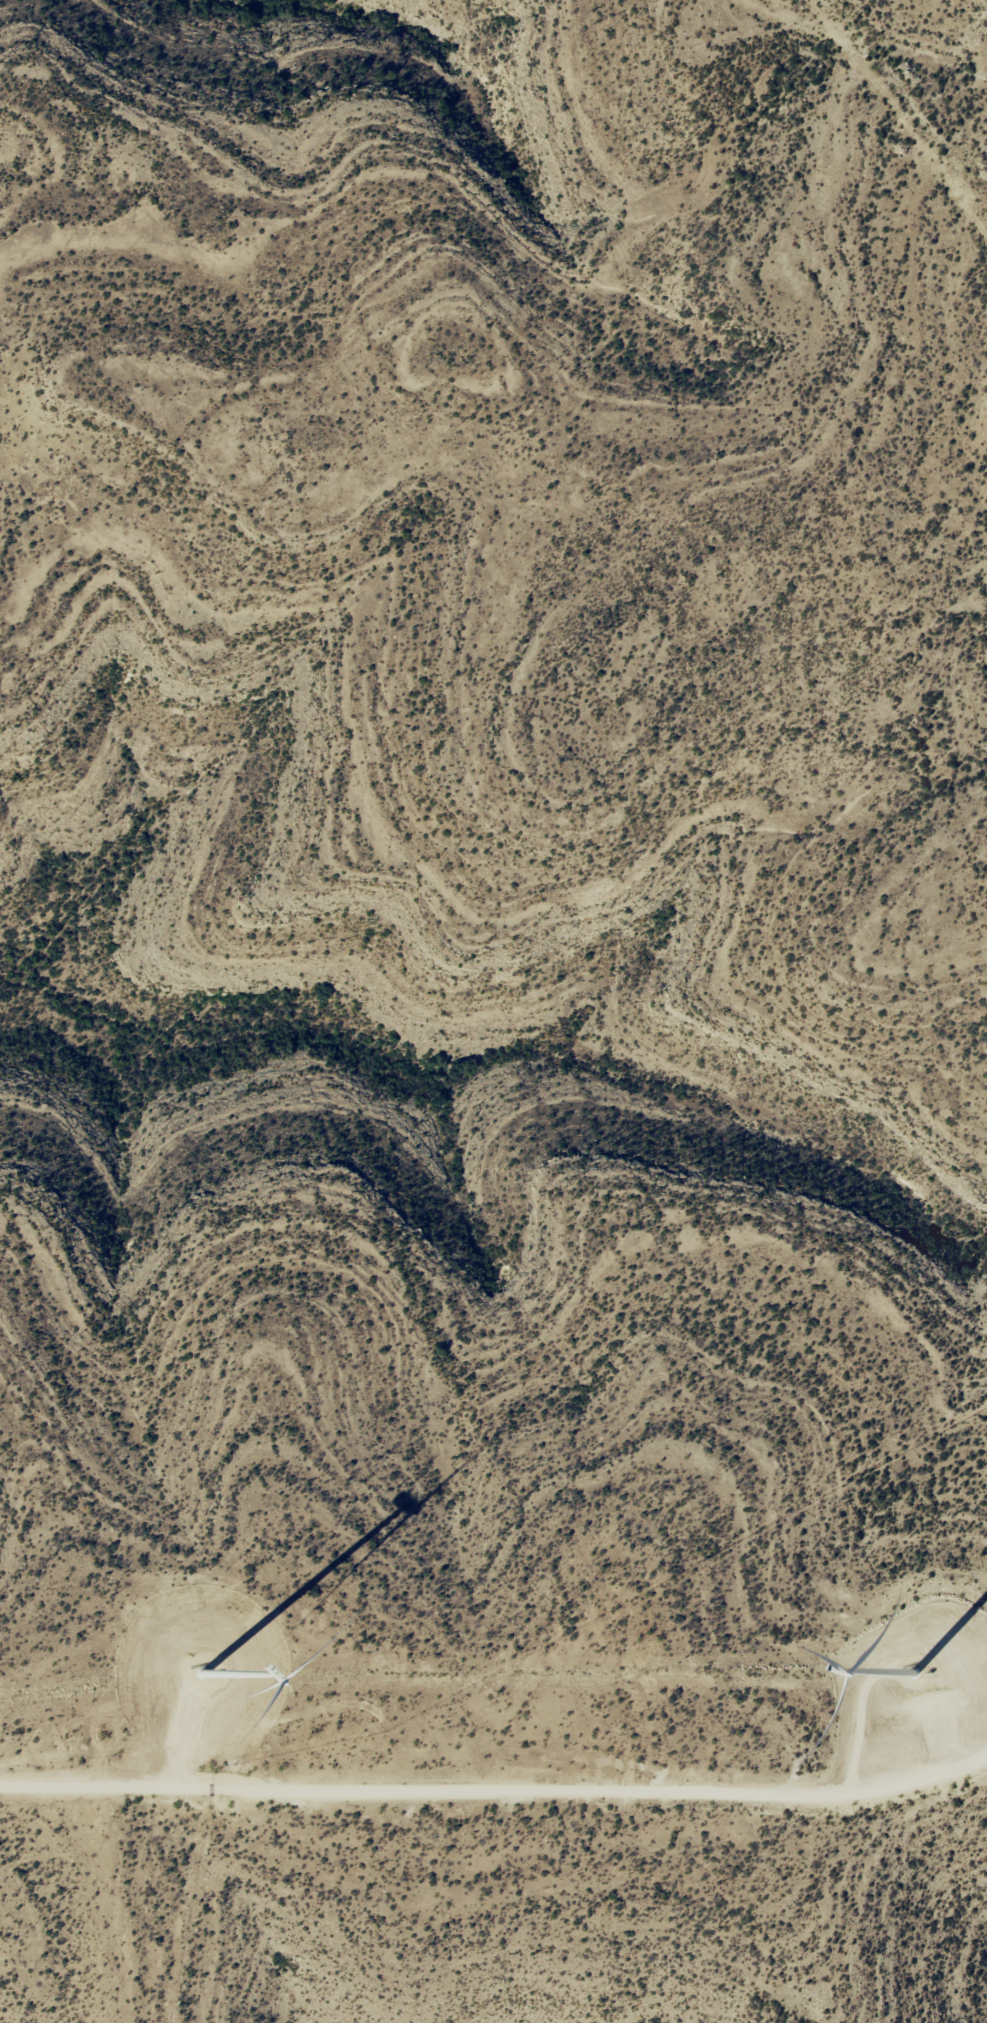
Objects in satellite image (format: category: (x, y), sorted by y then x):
wind turbine: (200, 1669)
wind turbine: (912, 1671)
road: (496, 1746)

